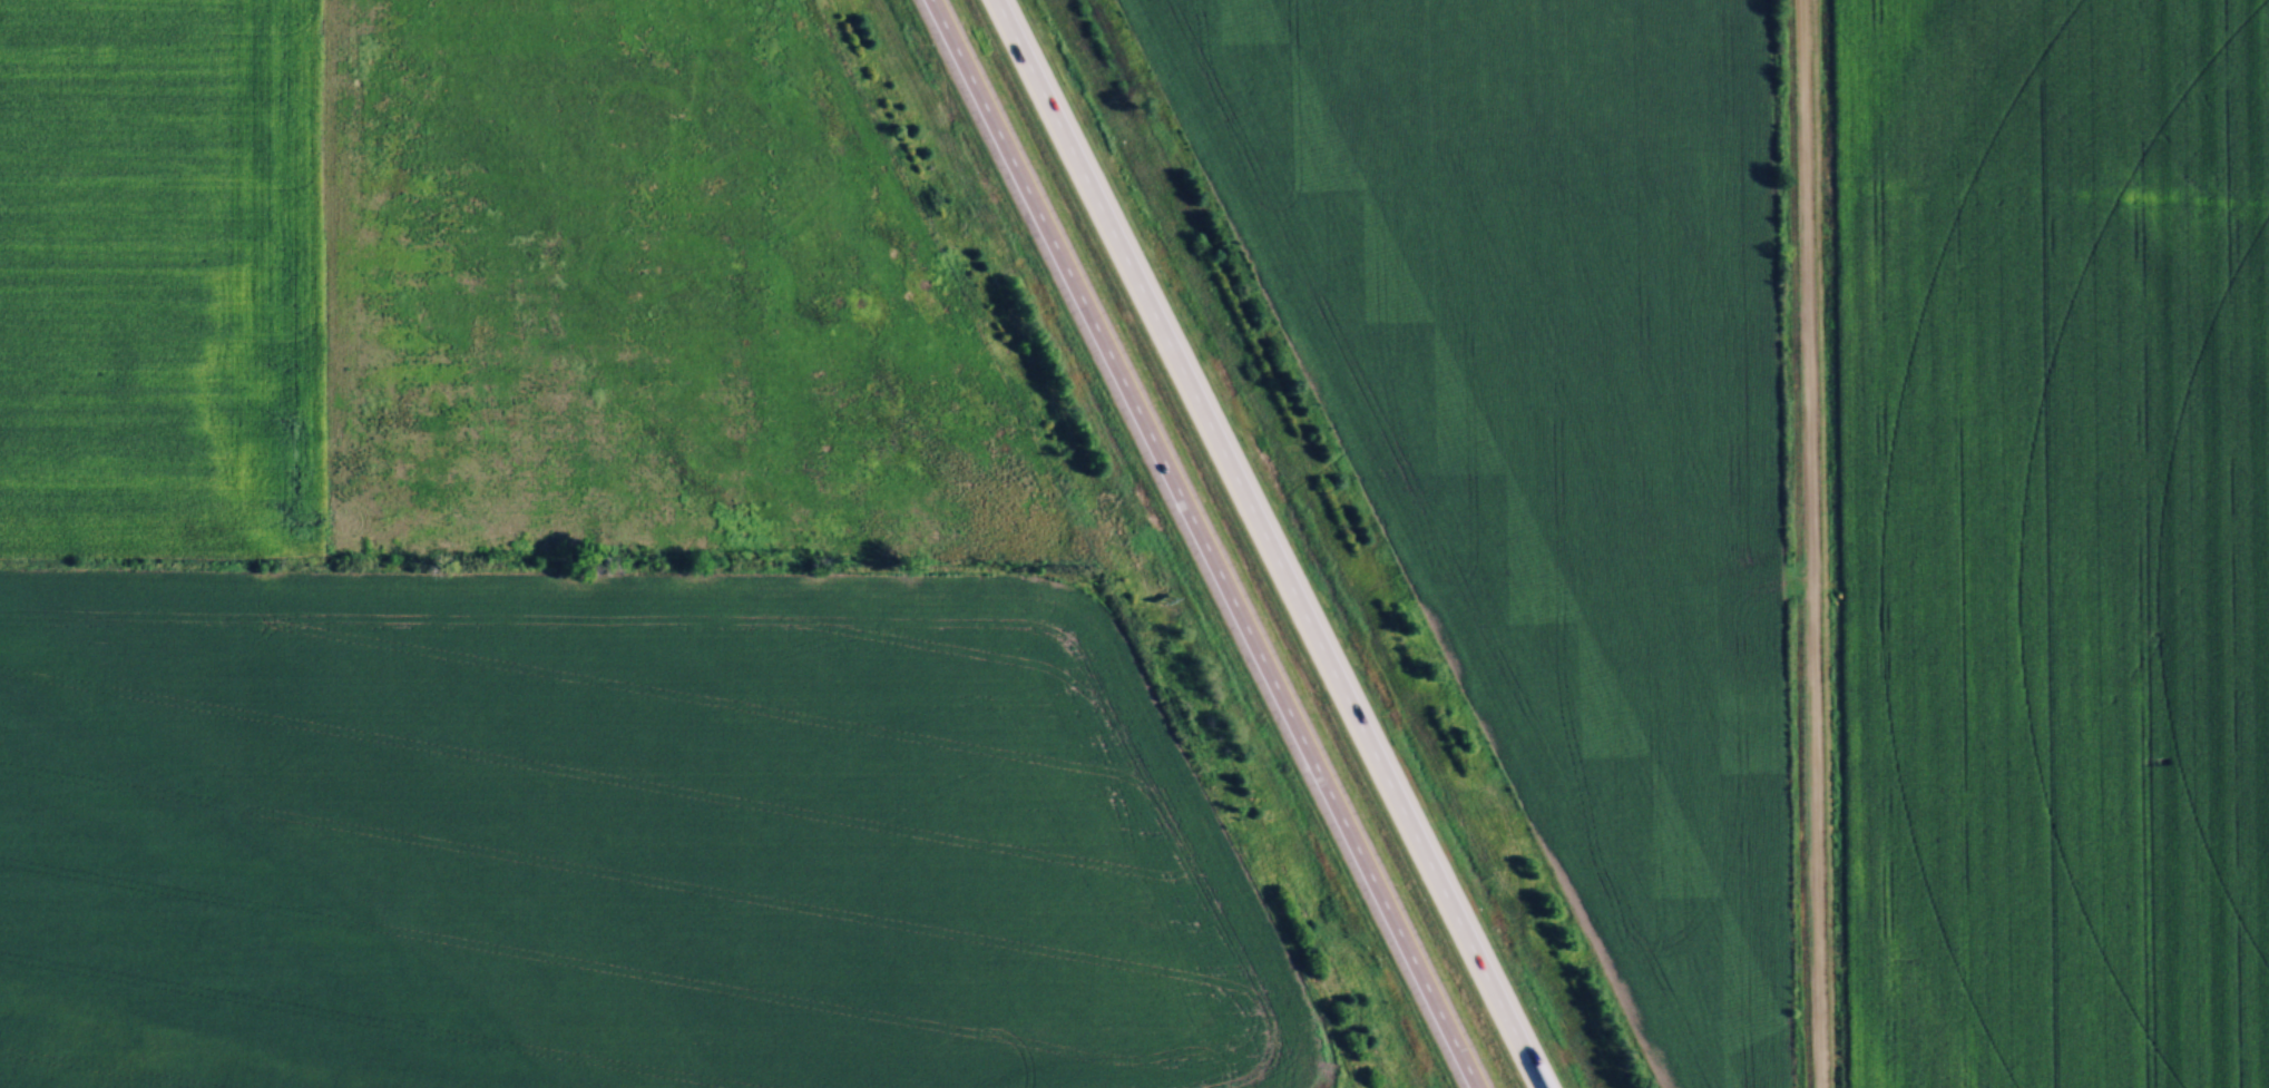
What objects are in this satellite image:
road: (1199, 543)
road: (1811, 543)
road: (1269, 545)

